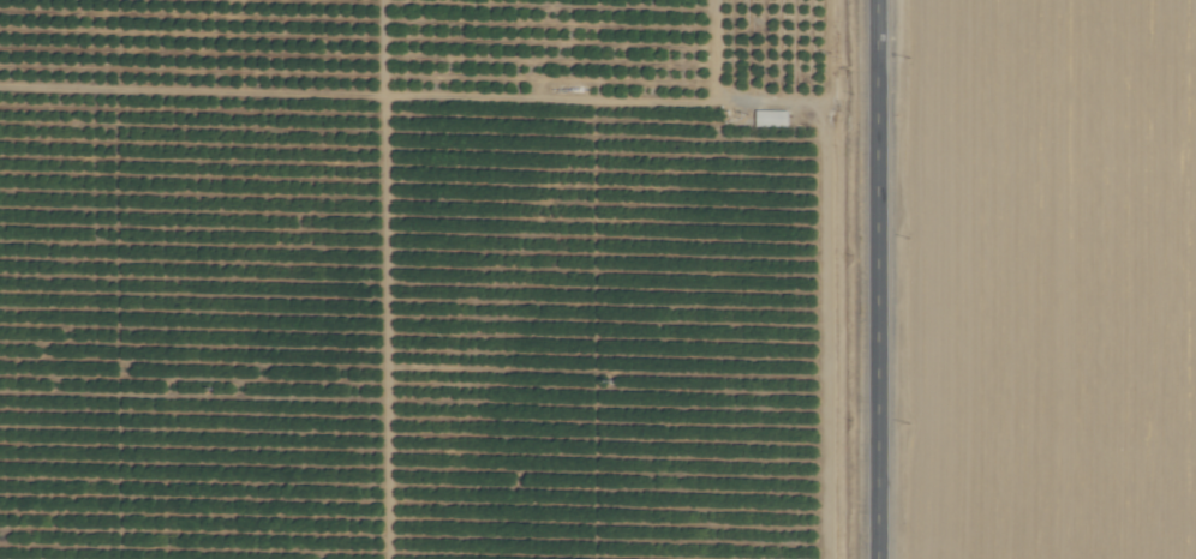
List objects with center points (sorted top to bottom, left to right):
building: (771, 118)
crop: (598, 279)
road: (877, 279)

